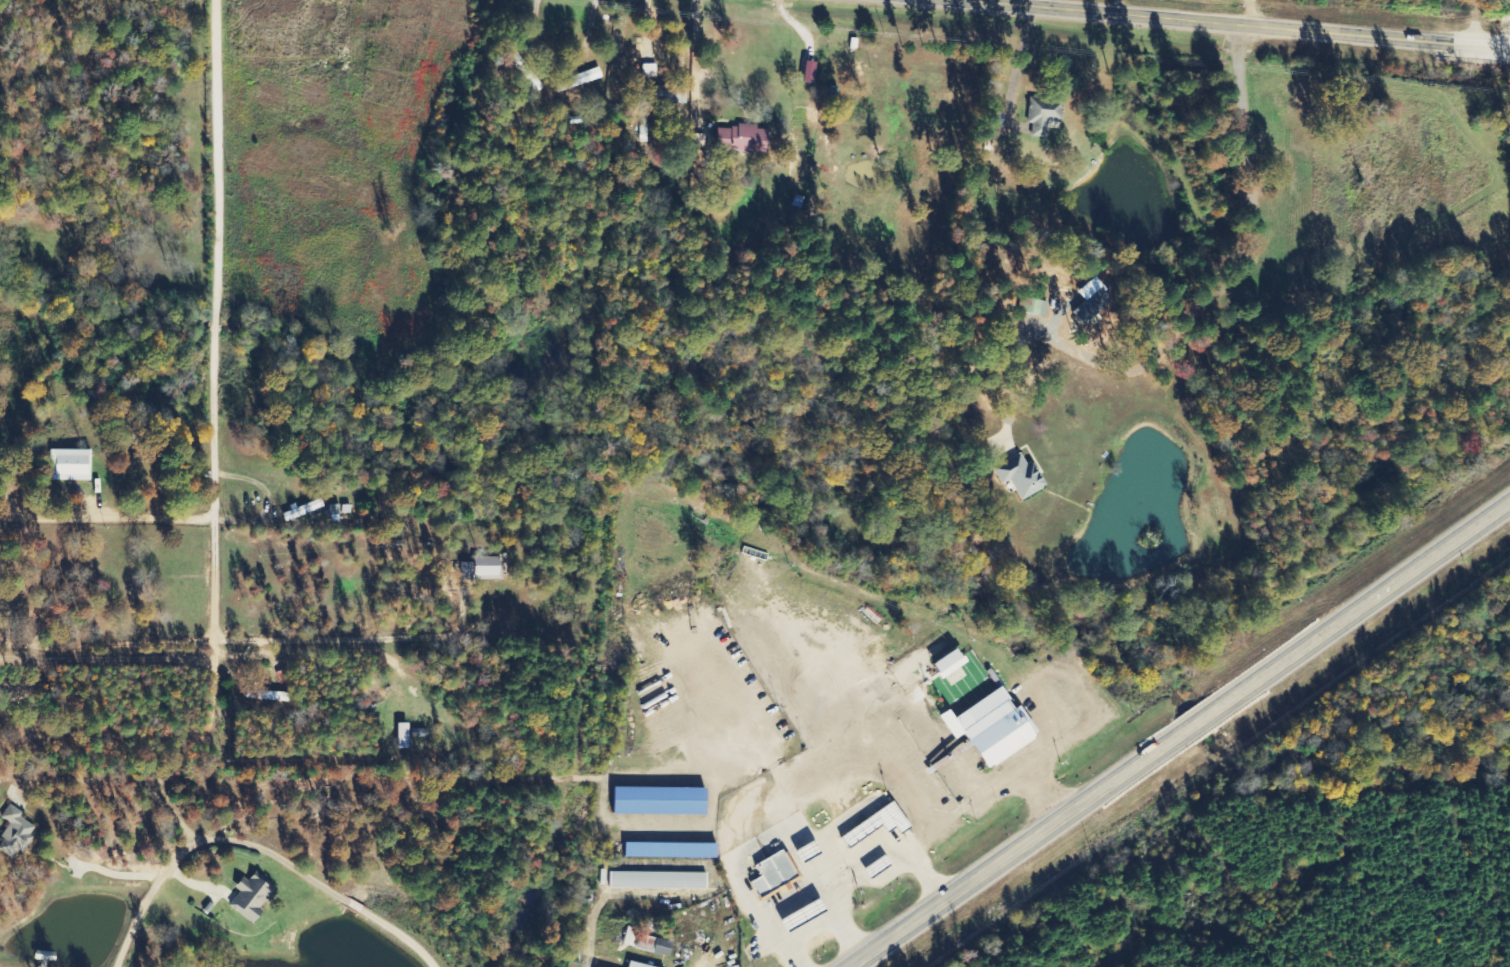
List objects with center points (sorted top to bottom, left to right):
road: (974, 1)
road: (1124, 8)
road: (1230, 24)
road: (18, 68)
building: (579, 80)
building: (1039, 116)
building: (745, 139)
road: (396, 326)
road: (199, 364)
building: (69, 465)
building: (1016, 476)
building: (304, 509)
road: (486, 510)
building: (489, 567)
building: (467, 570)
building: (939, 664)
building: (984, 728)
road: (1175, 731)
building: (405, 736)
building: (663, 801)
building: (16, 832)
road: (254, 846)
building: (673, 850)
building: (776, 874)
building: (659, 880)
building: (253, 898)
building: (649, 943)
building: (639, 965)

